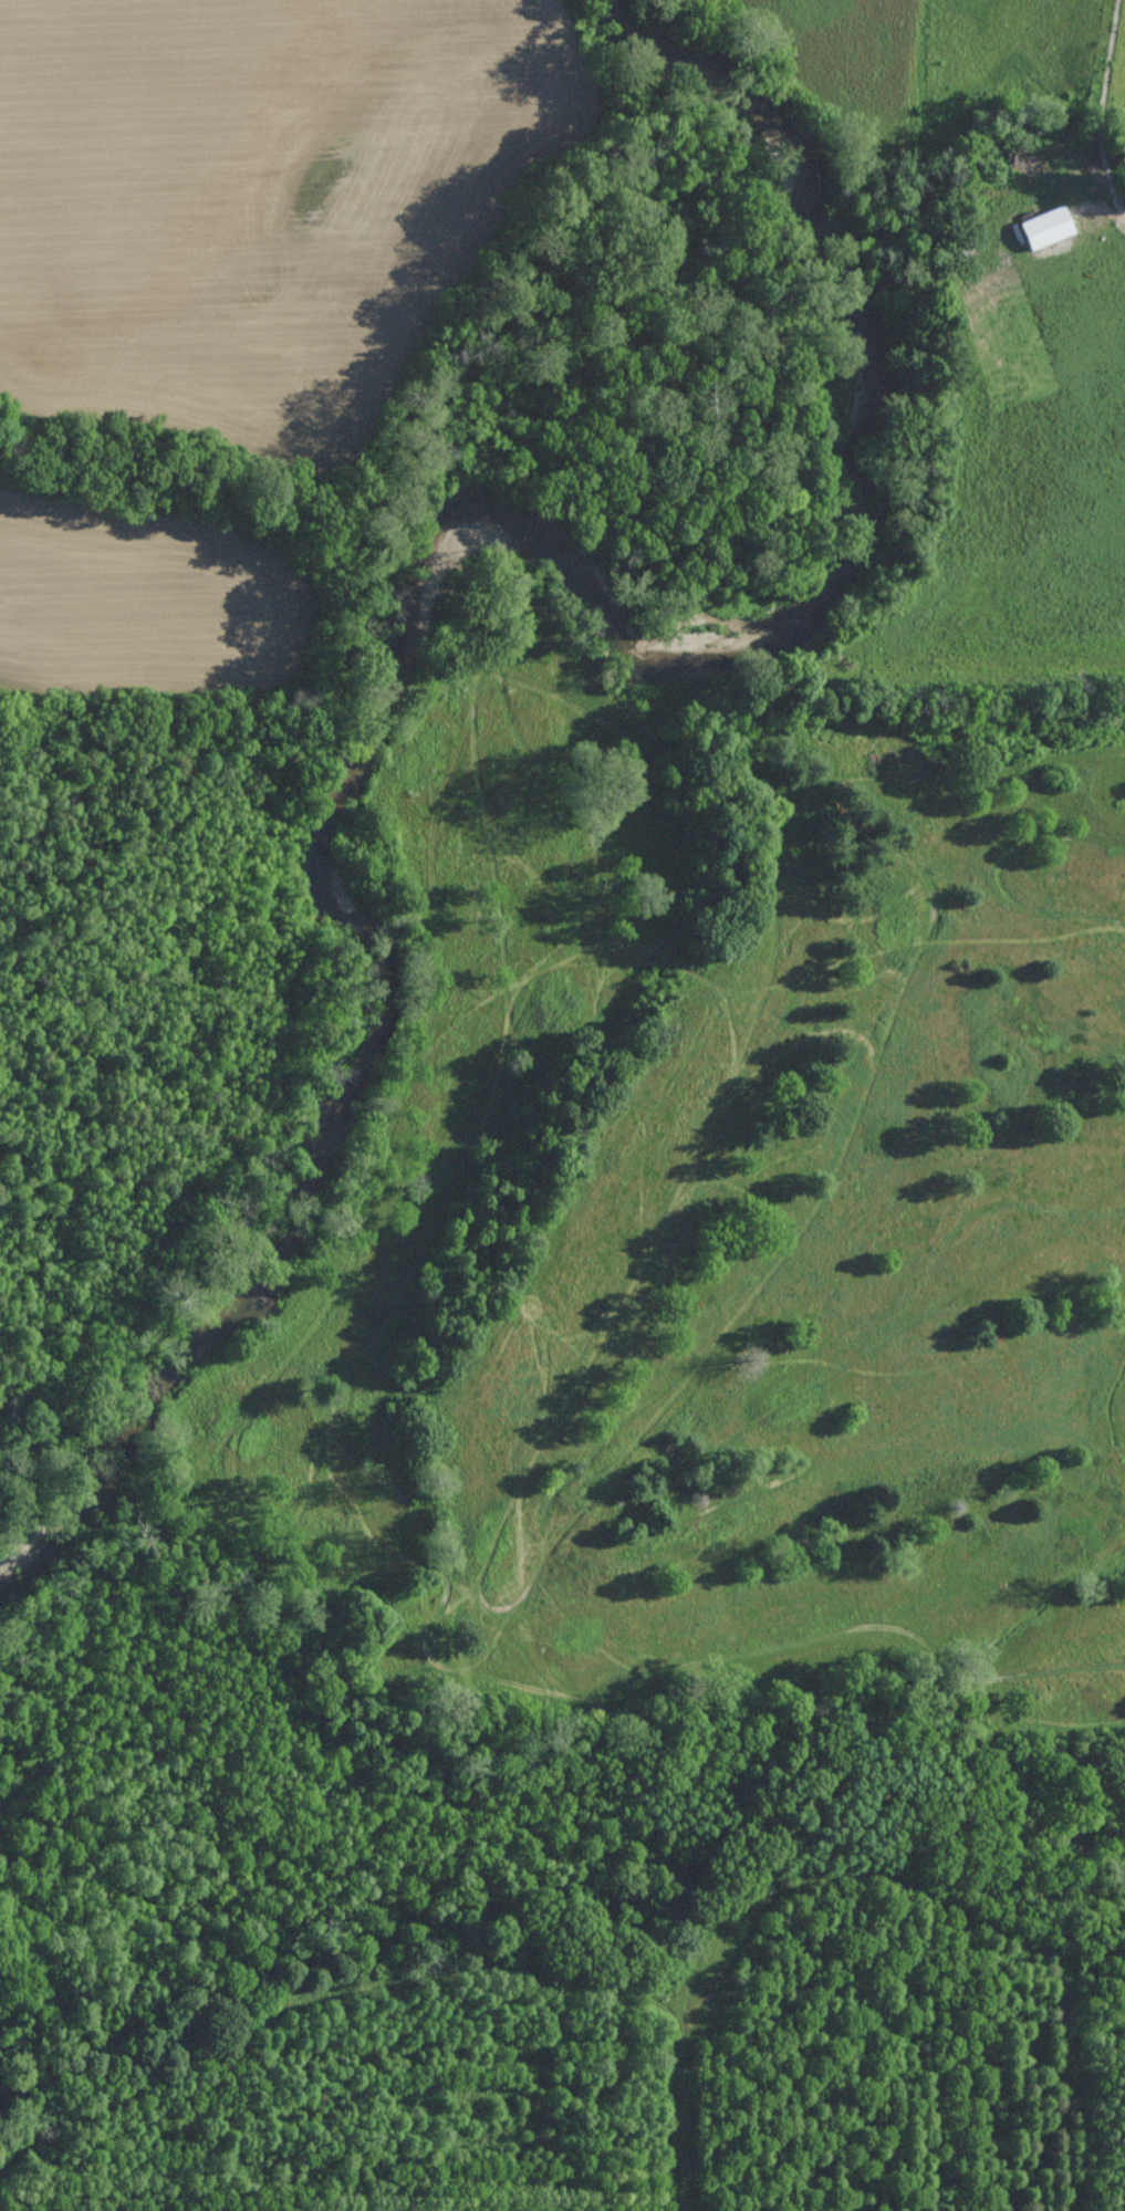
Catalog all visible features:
road: (1103, 98)
road: (1118, 208)
building: (1046, 227)
river: (438, 540)
park: (704, 1226)

